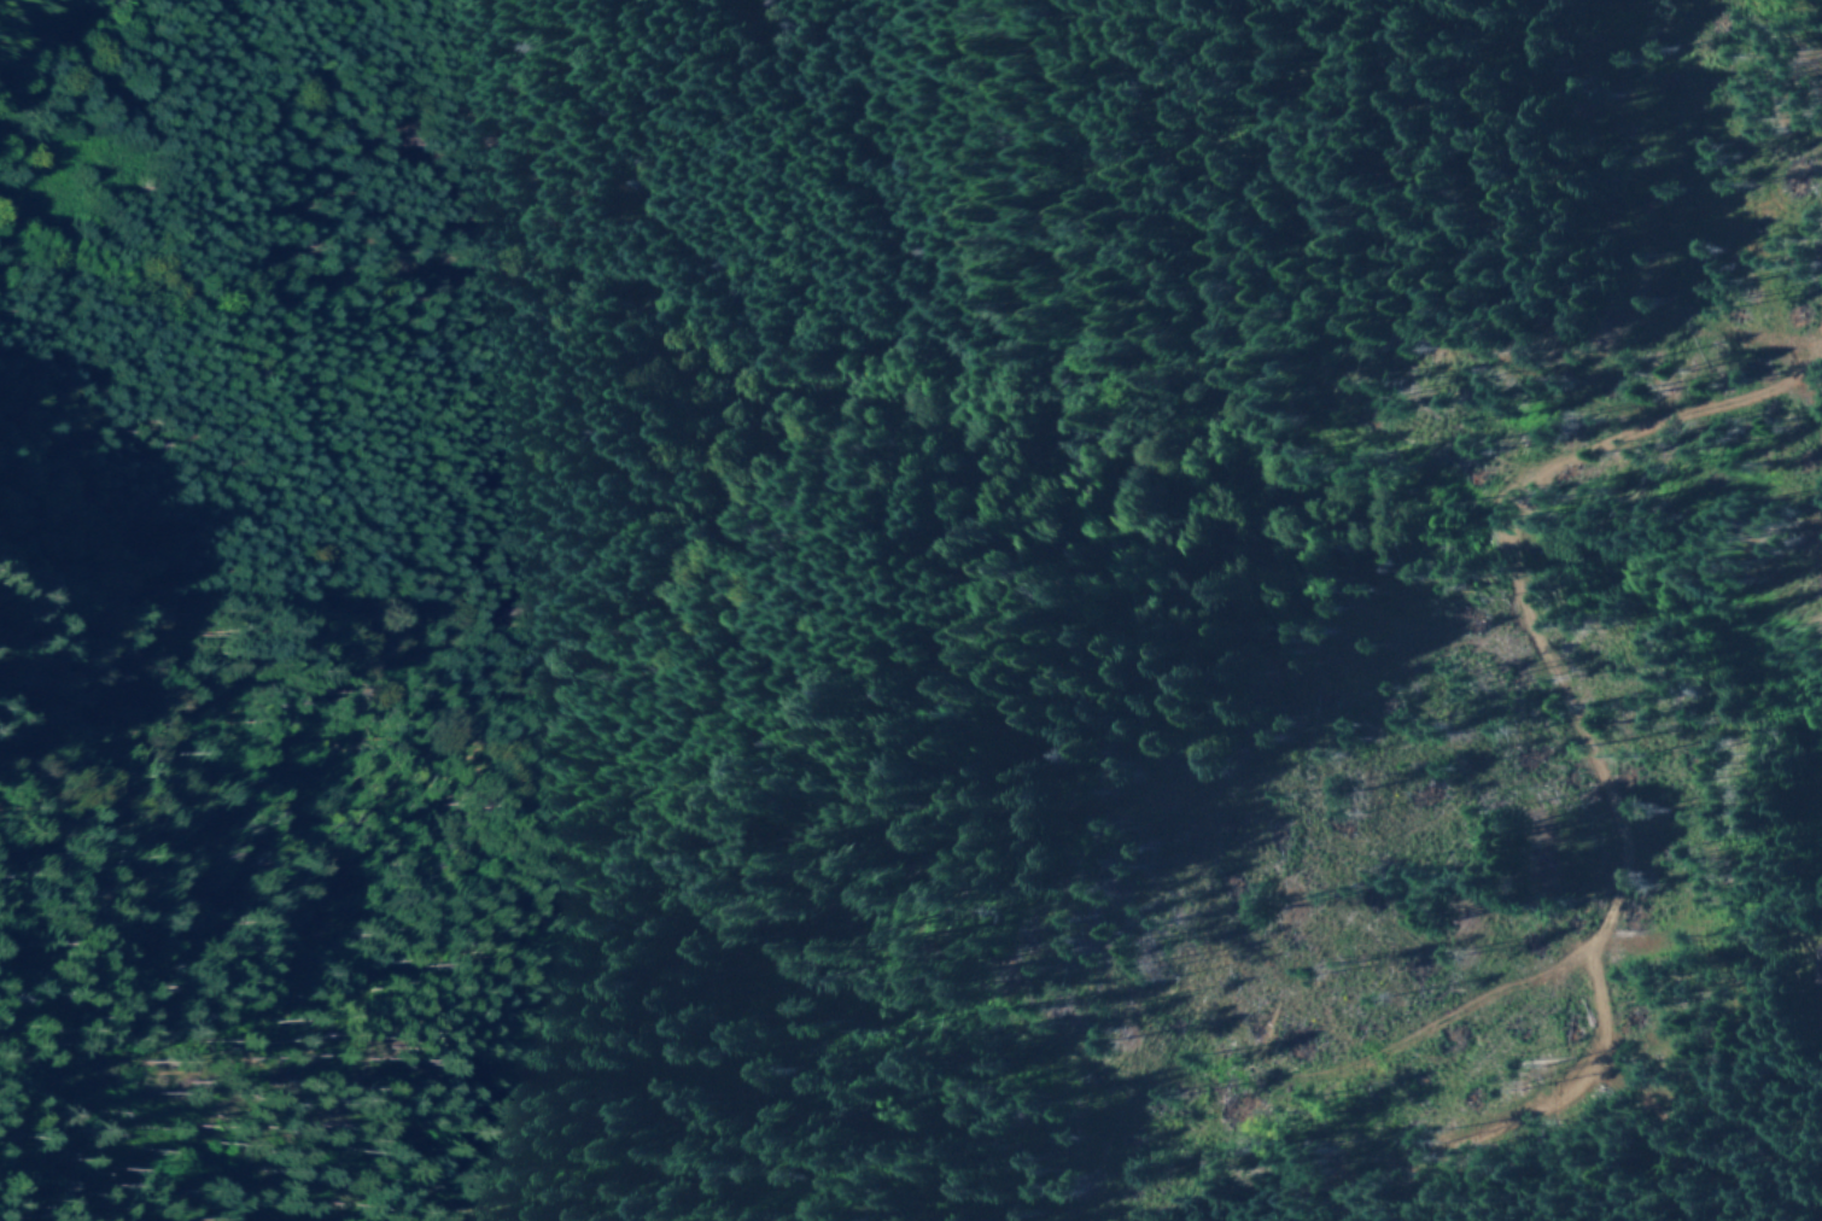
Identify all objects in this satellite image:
building: (1816, 970)

